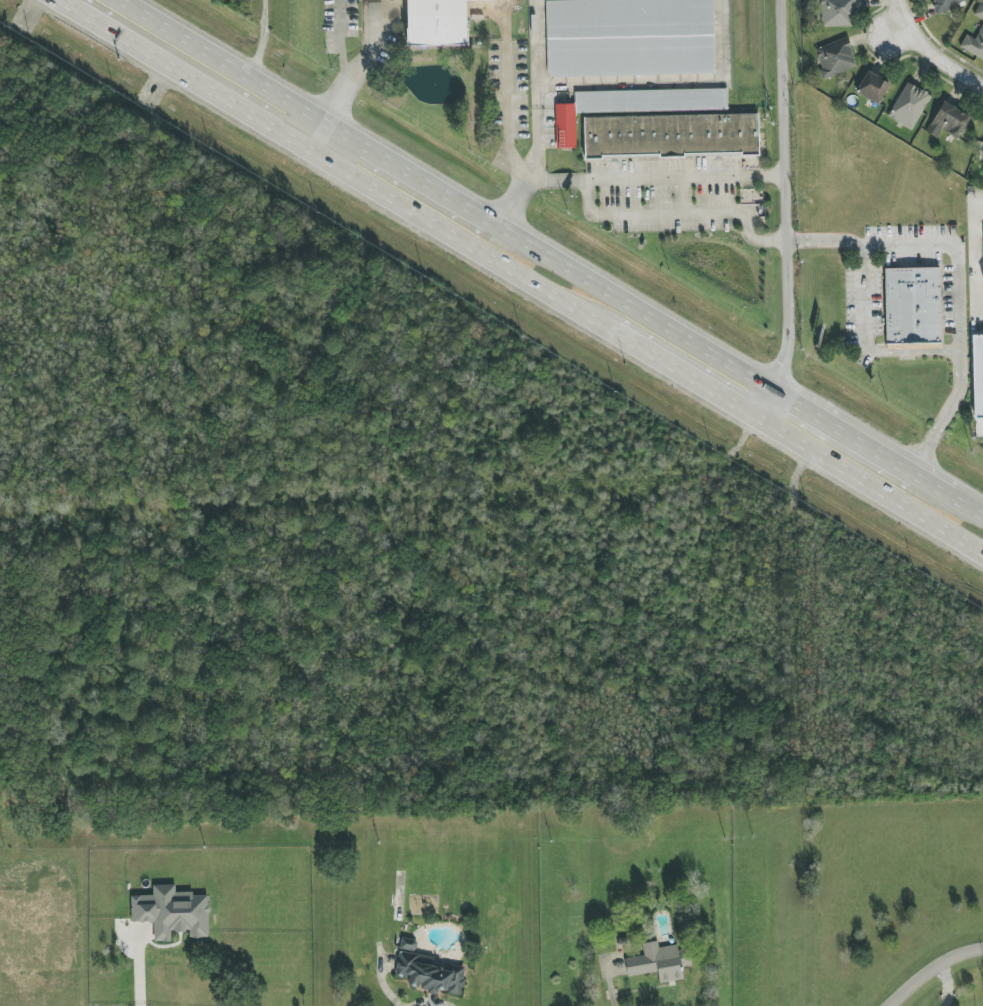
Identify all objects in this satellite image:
building: (945, 4)
road: (64, 5)
building: (979, 11)
building: (837, 13)
building: (437, 22)
road: (900, 28)
building: (630, 37)
road: (258, 39)
road: (339, 40)
building: (974, 44)
road: (931, 52)
road: (534, 53)
building: (835, 57)
road: (216, 60)
road: (358, 65)
road: (188, 79)
building: (872, 87)
building: (632, 106)
building: (909, 106)
road: (505, 115)
building: (948, 121)
road: (310, 134)
building: (671, 136)
road: (401, 171)
road: (534, 175)
road: (659, 177)
road: (785, 197)
road: (679, 211)
road: (457, 240)
road: (924, 246)
road: (973, 246)
building: (980, 260)
building: (982, 279)
road: (861, 296)
road: (628, 306)
building: (913, 306)
road: (976, 325)
road: (909, 352)
road: (684, 375)
building: (977, 376)
road: (763, 404)
road: (942, 417)
road: (840, 433)
road: (869, 485)
road: (929, 487)
road: (966, 509)
building: (172, 912)
building: (408, 944)
building: (657, 962)
road: (931, 967)
road: (135, 970)
building: (430, 974)
road: (381, 984)
road: (945, 984)
road: (610, 987)
road: (425, 1002)

